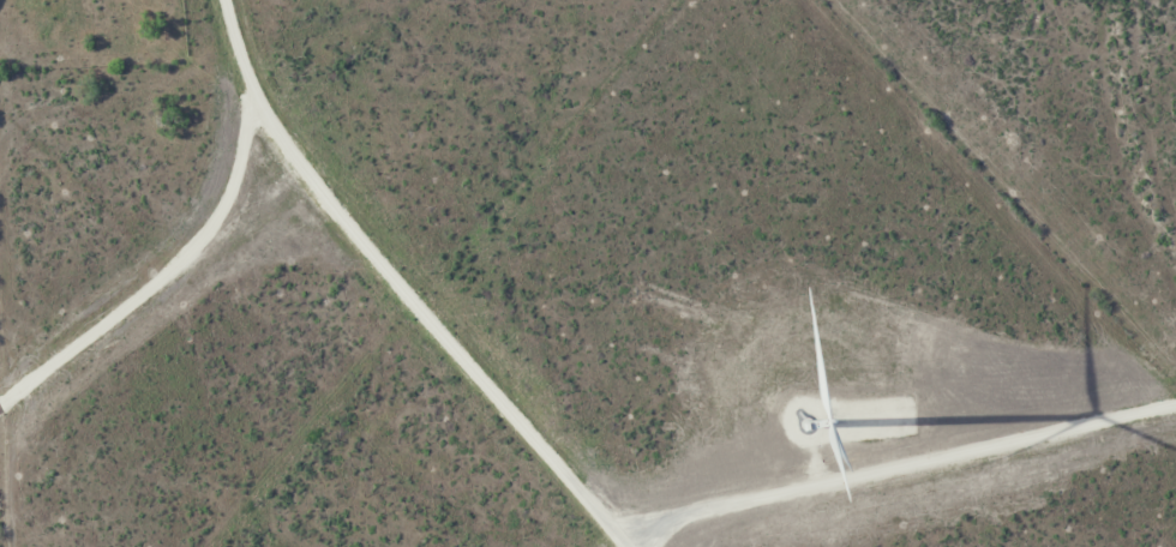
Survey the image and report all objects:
road: (398, 284)
wind turbine: (822, 409)

